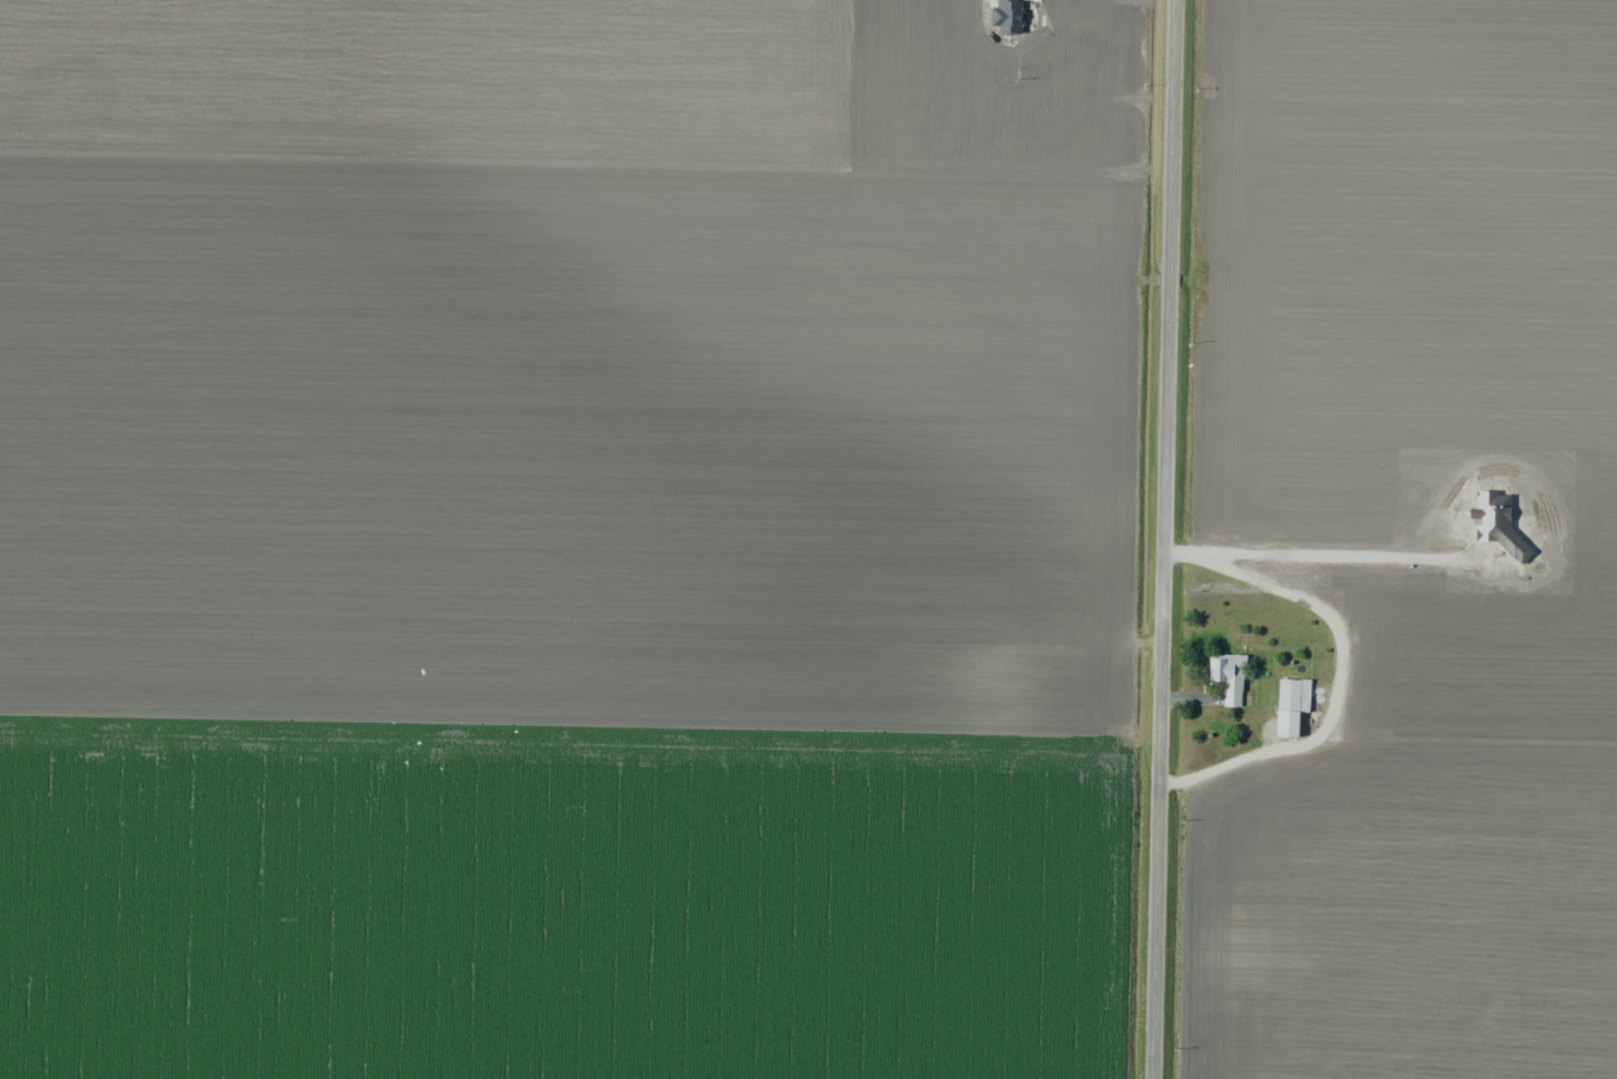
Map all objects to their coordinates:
road: (1162, 539)
building: (1229, 676)
building: (1292, 705)

